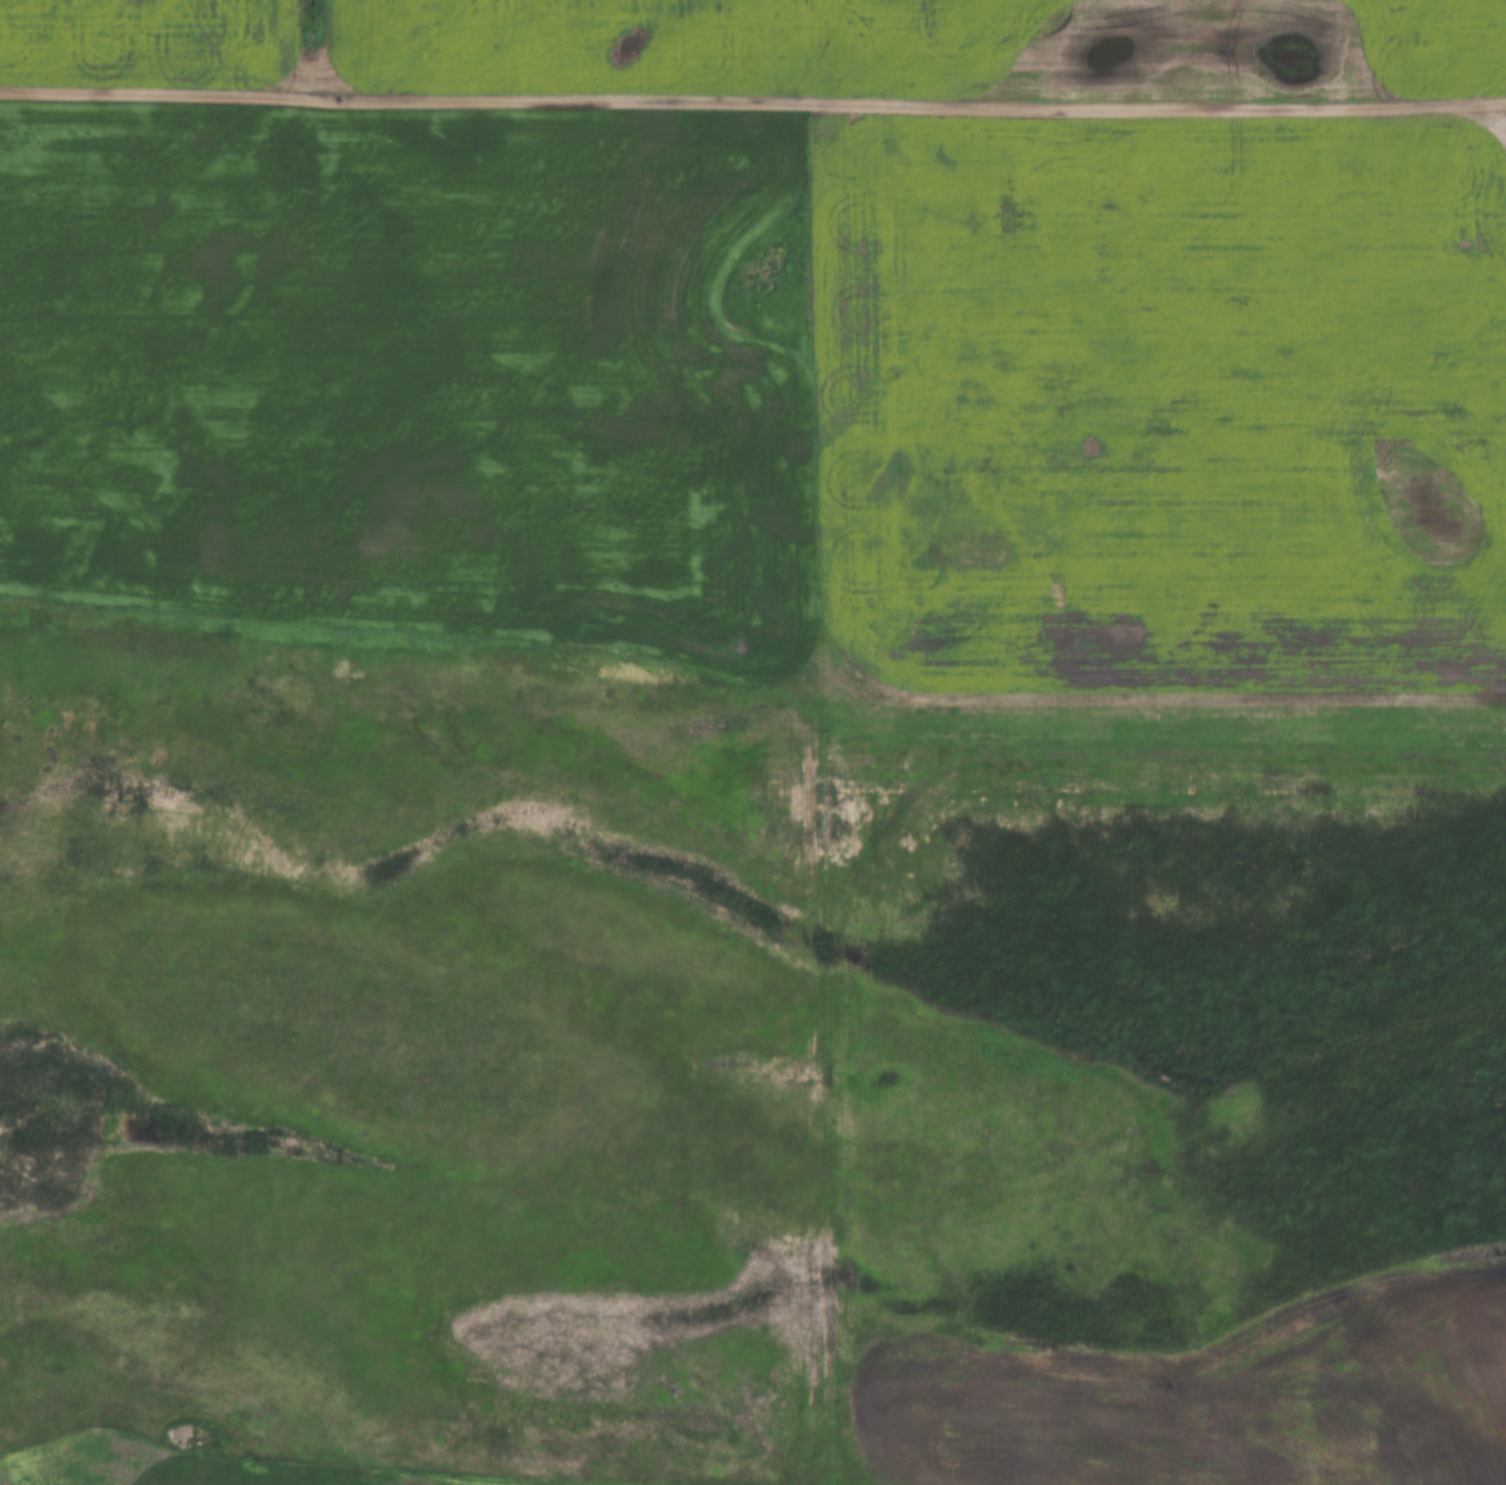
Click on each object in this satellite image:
road: (752, 96)

